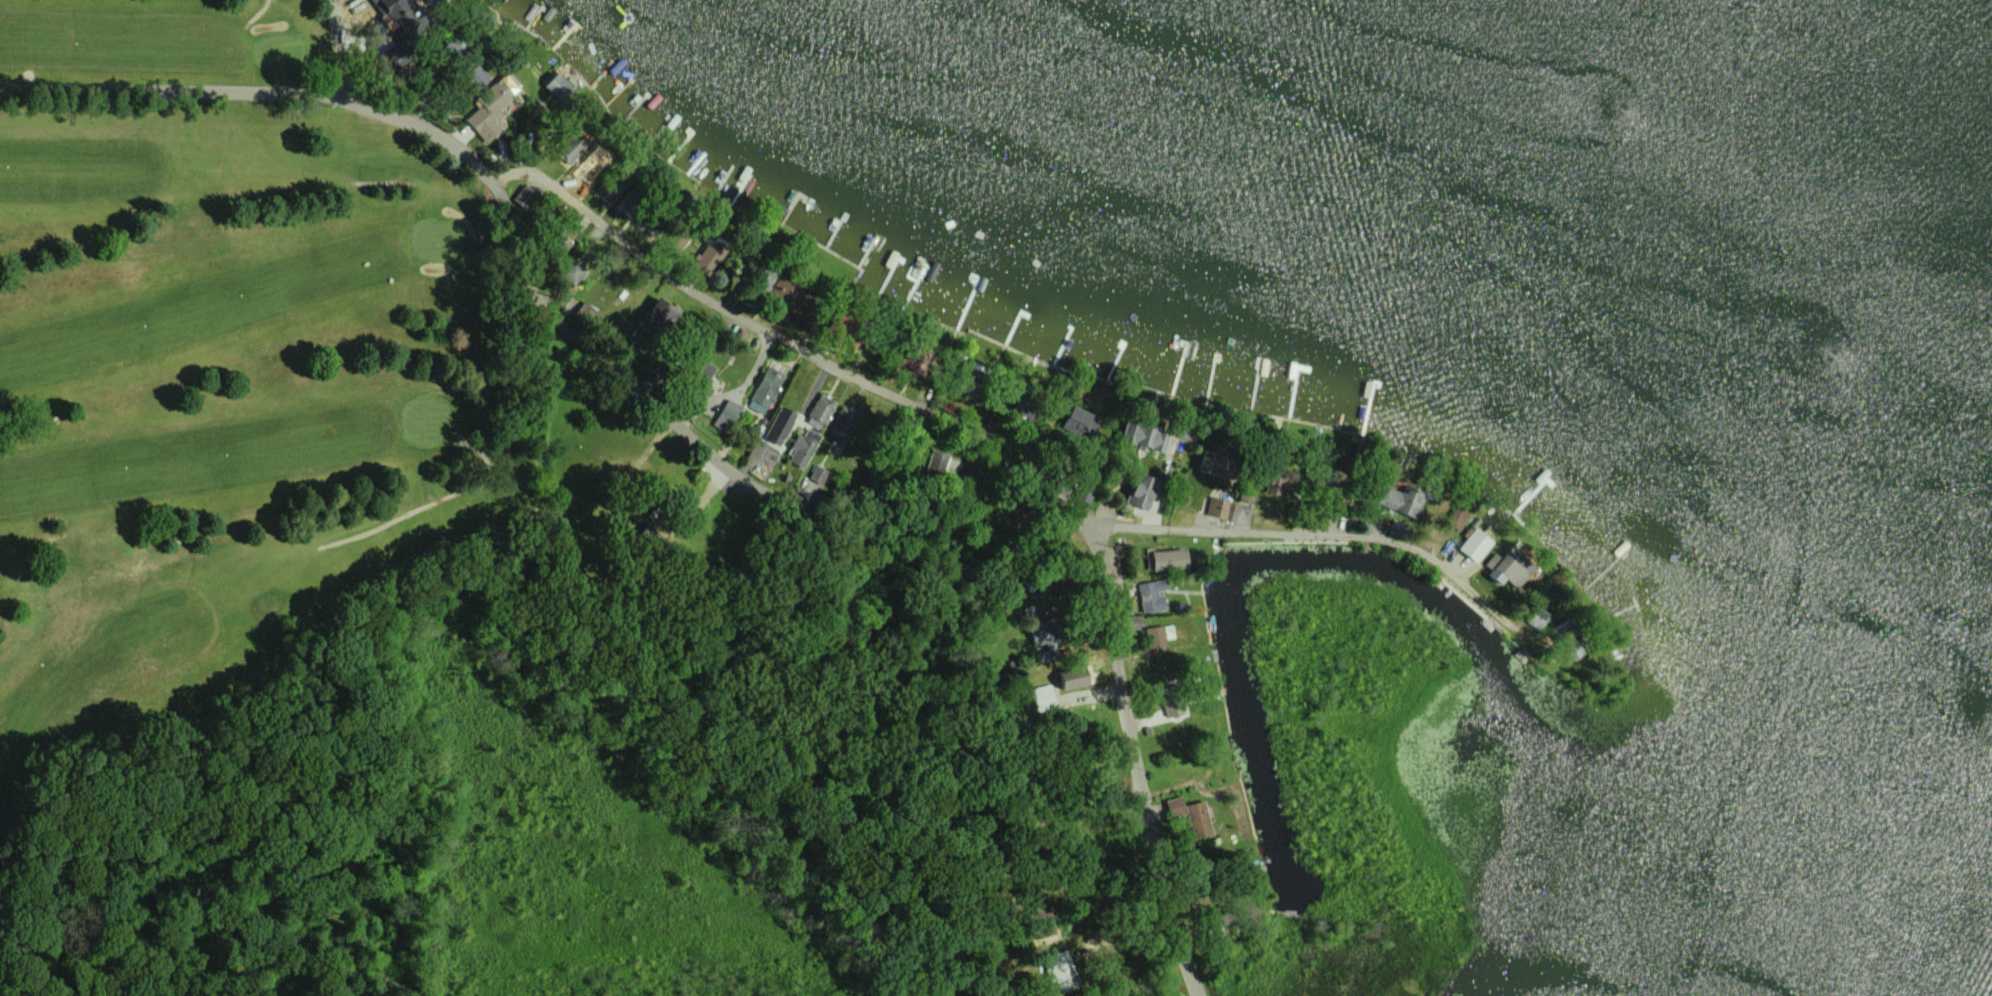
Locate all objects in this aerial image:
road: (255, 14)
building: (400, 25)
road: (344, 49)
building: (471, 72)
building: (556, 86)
building: (489, 107)
building: (567, 146)
building: (586, 165)
road: (380, 183)
building: (524, 196)
building: (706, 255)
building: (571, 269)
building: (778, 288)
building: (583, 313)
building: (658, 315)
road: (758, 331)
road: (590, 340)
building: (702, 369)
building: (763, 390)
building: (818, 410)
building: (724, 415)
building: (843, 419)
building: (1078, 423)
building: (777, 425)
park: (251, 432)
building: (1143, 437)
building: (801, 447)
building: (934, 461)
building: (1217, 464)
building: (815, 473)
building: (1143, 492)
building: (1400, 499)
road: (429, 502)
building: (1217, 507)
building: (1456, 518)
road: (1358, 539)
building: (1474, 544)
building: (1167, 559)
building: (1508, 567)
building: (1152, 594)
building: (1536, 617)
building: (1154, 636)
building: (1073, 676)
building: (1039, 697)
building: (1170, 699)
road: (1138, 765)
building: (1191, 815)
road: (1123, 932)
building: (1061, 970)

